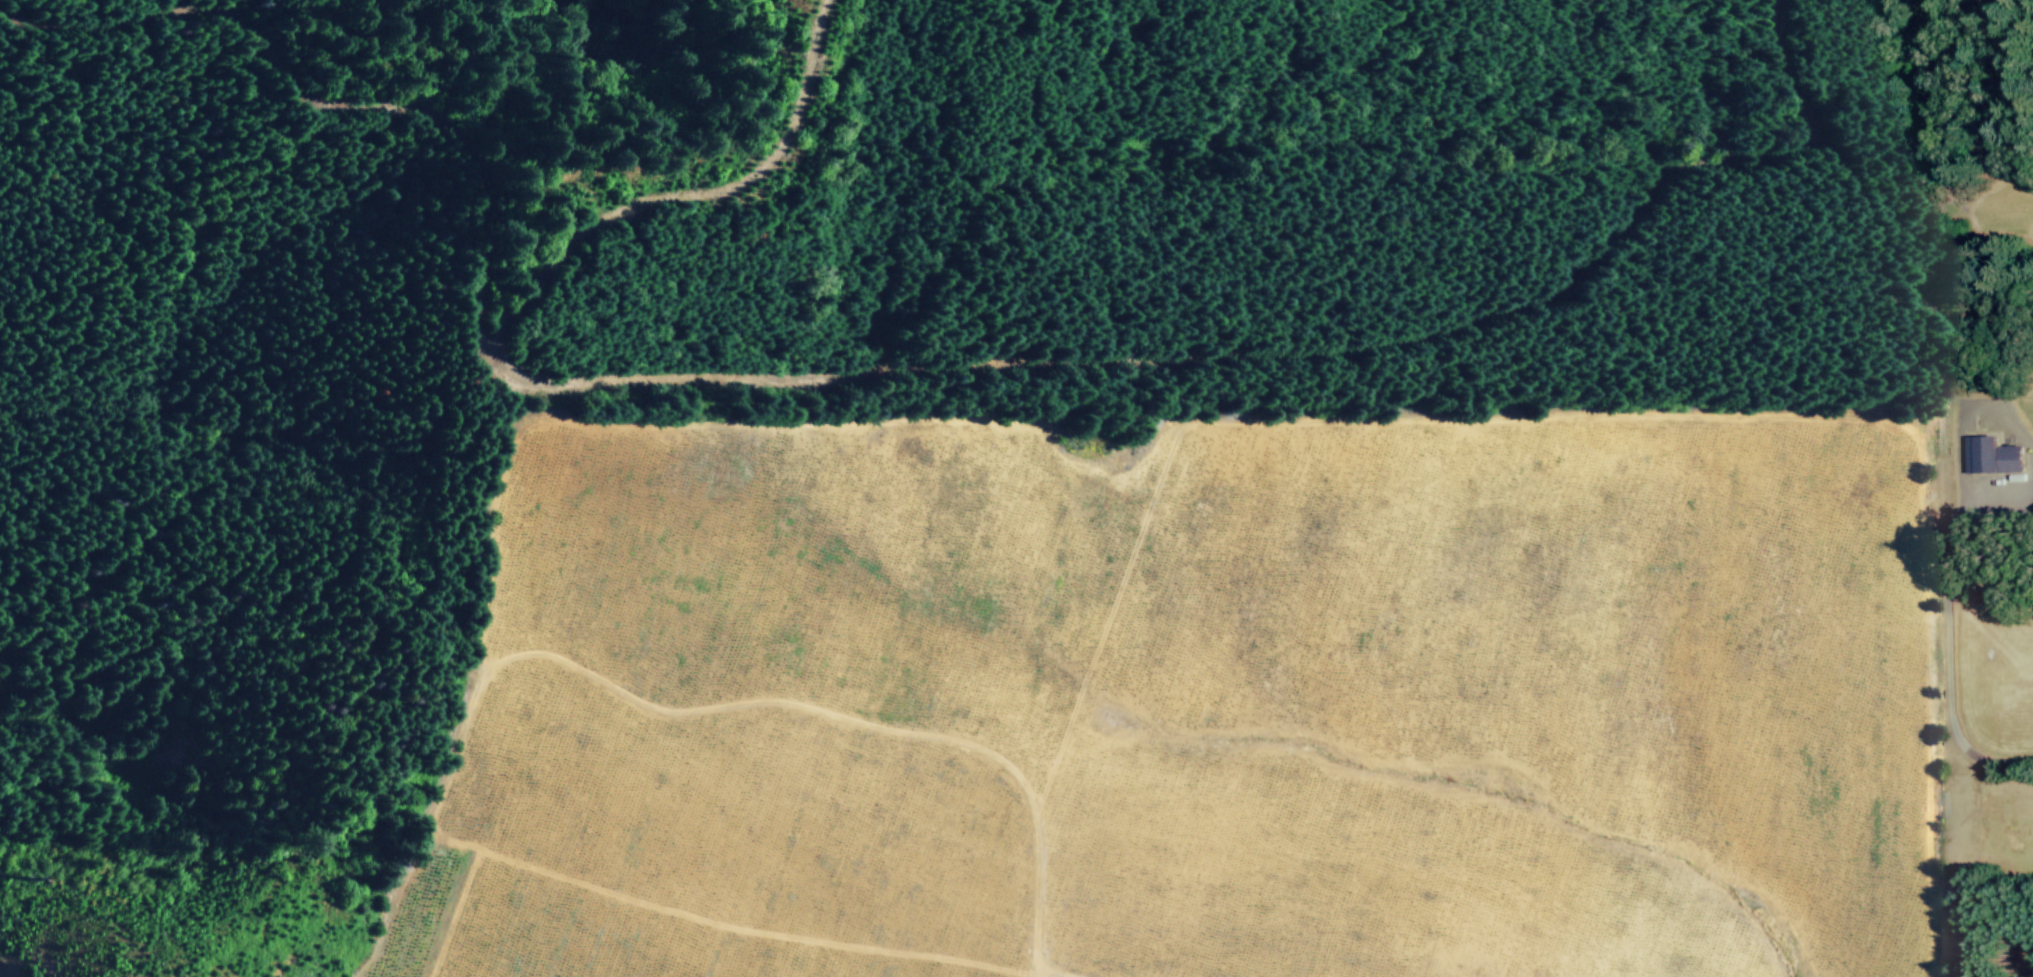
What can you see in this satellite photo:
road: (974, 357)
building: (1977, 452)
building: (2008, 457)
road: (1947, 635)
crop: (1228, 687)
road: (478, 688)
road: (455, 914)
crop: (633, 937)
road: (1031, 975)
road: (1042, 975)

